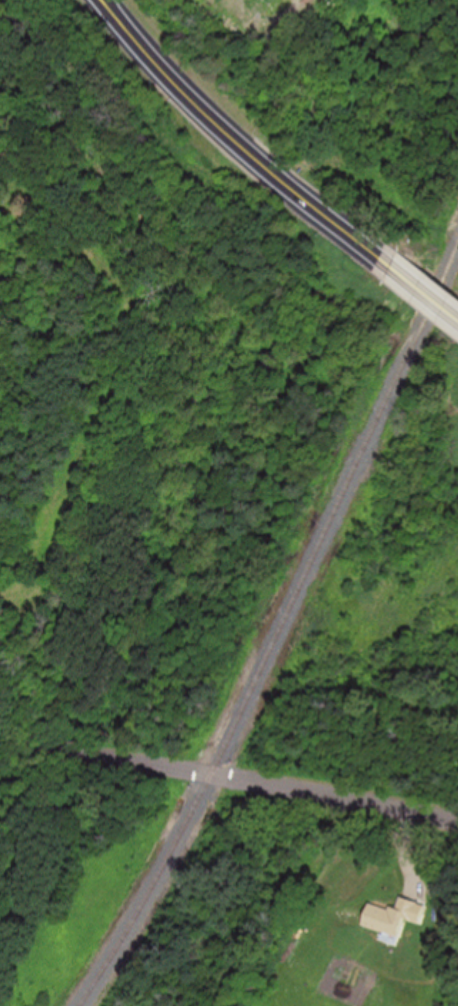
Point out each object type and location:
road: (234, 138)
road: (423, 281)
railway: (280, 633)
road: (228, 778)

